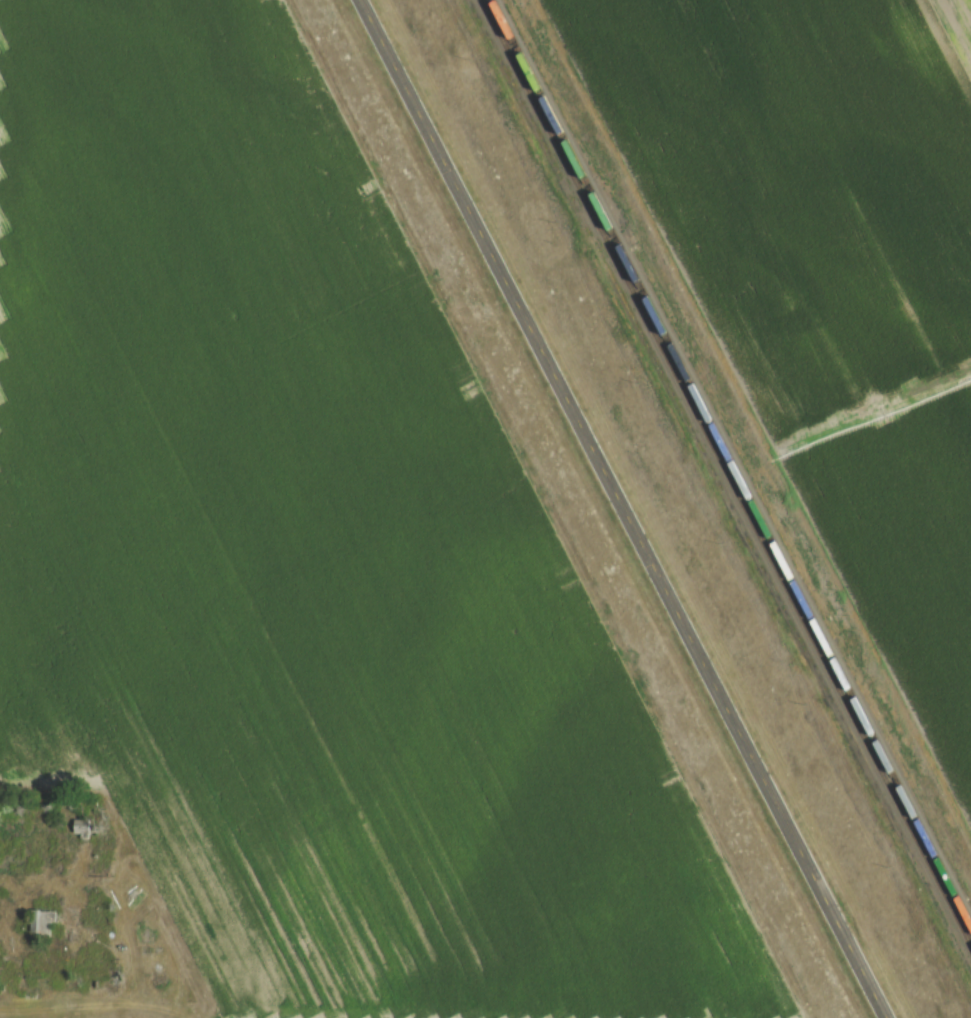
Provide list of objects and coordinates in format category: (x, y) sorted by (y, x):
crop: (829, 276)
building: (721, 311)
building: (778, 427)
railway: (731, 462)
railway: (726, 472)
road: (625, 509)
crop: (308, 566)
building: (943, 747)
building: (41, 920)
building: (248, 1003)

